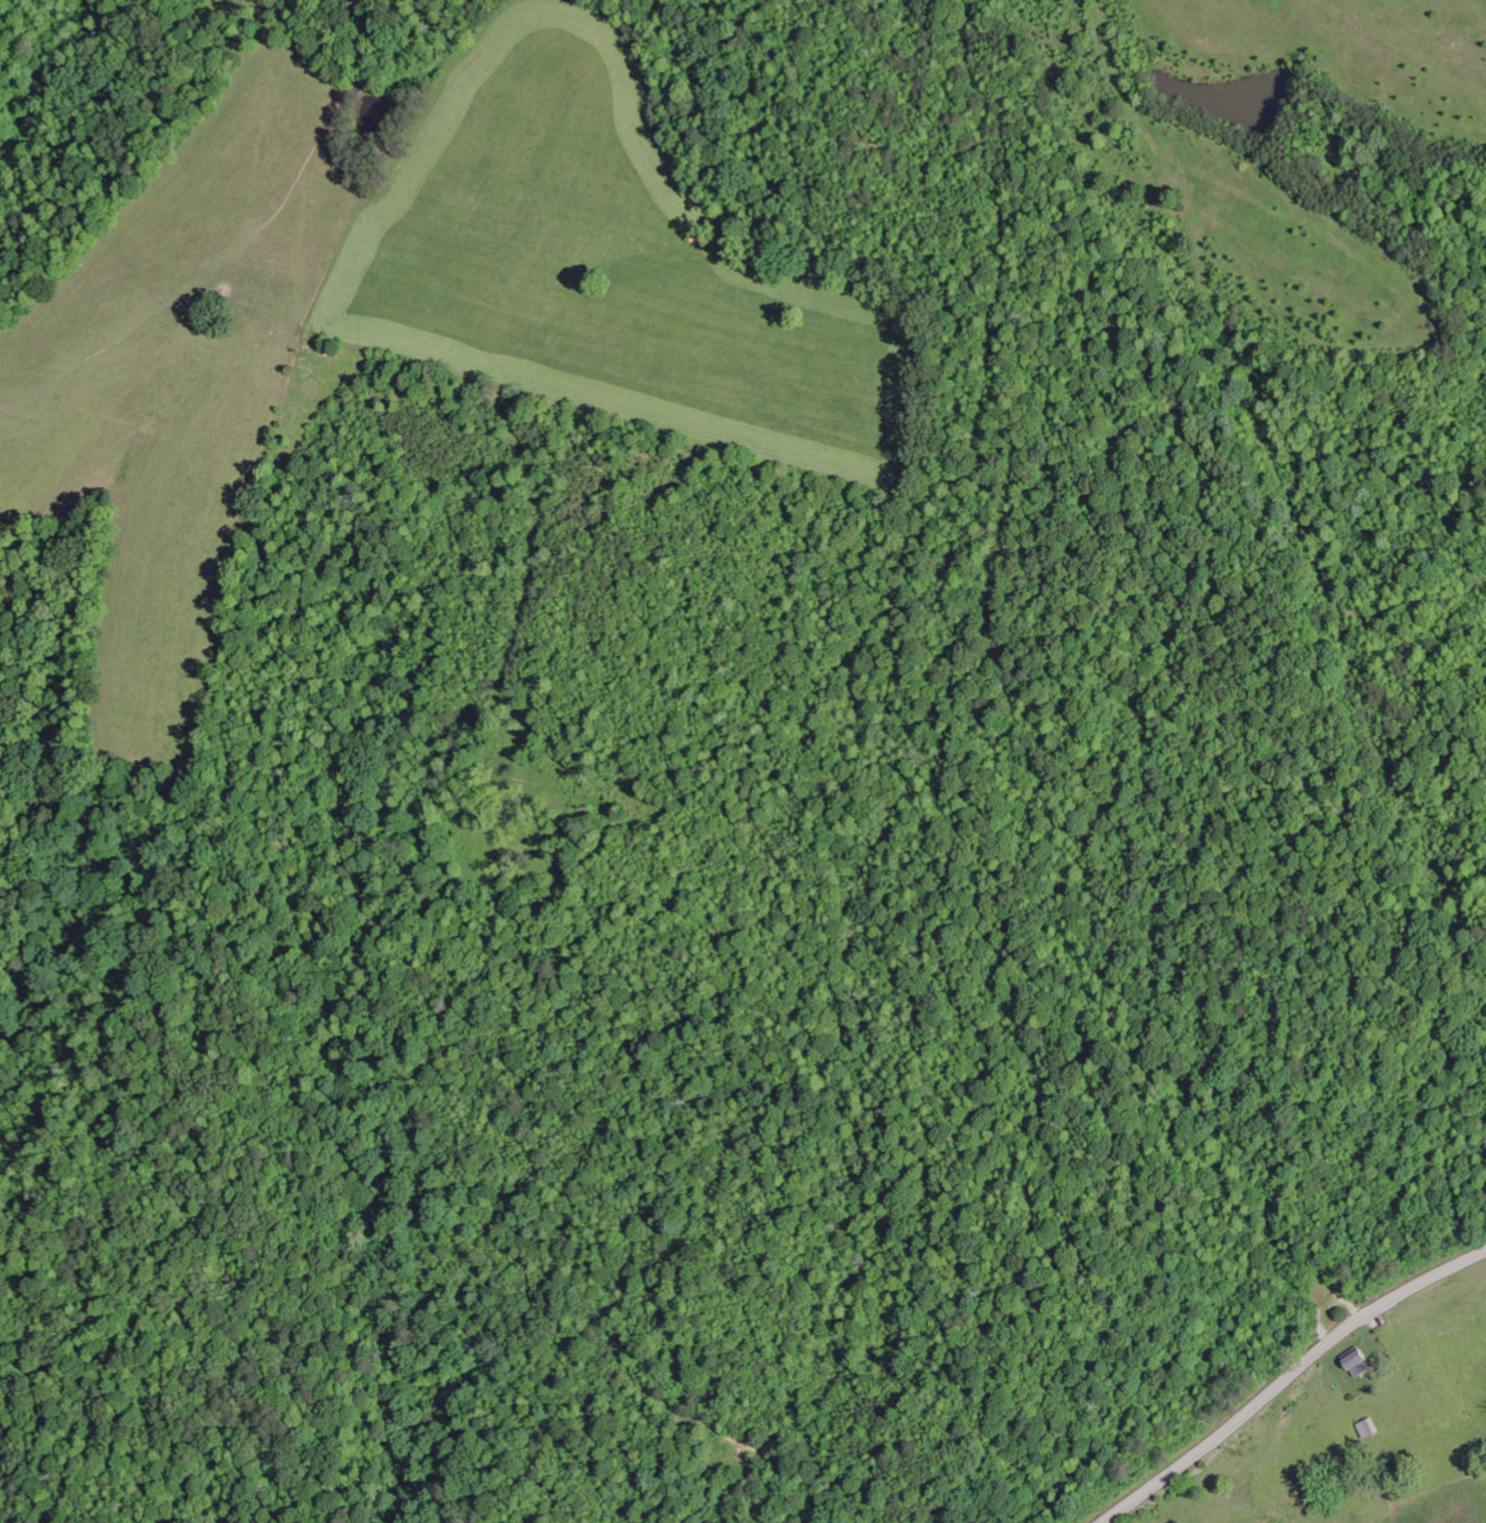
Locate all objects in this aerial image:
building: (1360, 1363)
road: (1289, 1377)
building: (1371, 1428)

